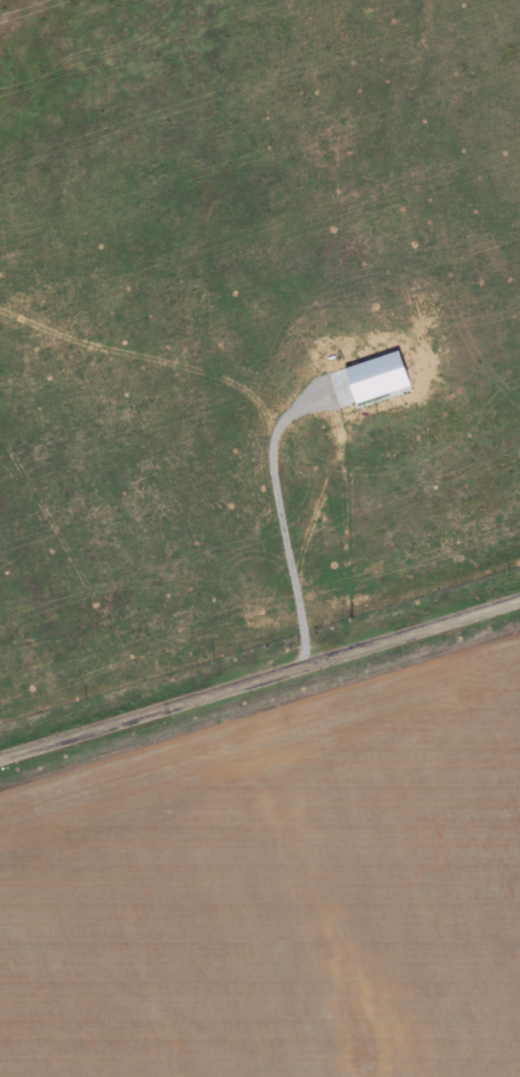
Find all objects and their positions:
road: (259, 687)

